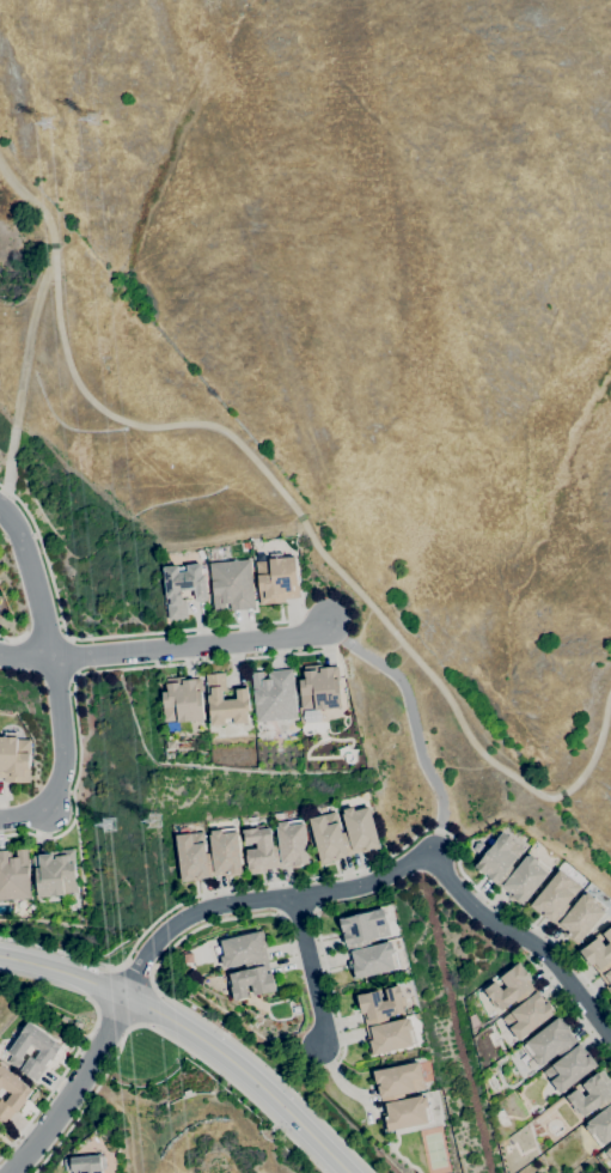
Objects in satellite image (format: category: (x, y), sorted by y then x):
power tower: (92, 121)
power tower: (49, 124)
road: (30, 200)
road: (54, 245)
road: (23, 382)
road: (132, 423)
park: (287, 493)
road: (300, 517)
building: (276, 578)
road: (33, 579)
building: (232, 584)
building: (183, 588)
road: (291, 618)
road: (44, 636)
road: (96, 637)
road: (12, 638)
road: (190, 645)
road: (324, 645)
road: (24, 656)
road: (68, 656)
road: (426, 669)
road: (87, 671)
building: (319, 687)
building: (274, 695)
building: (182, 699)
building: (225, 703)
road: (413, 723)
building: (170, 746)
road: (597, 746)
building: (14, 758)
road: (60, 759)
road: (562, 794)
power tower: (153, 822)
power tower: (110, 827)
building: (344, 833)
building: (276, 846)
building: (475, 847)
building: (225, 853)
building: (191, 856)
building: (512, 869)
building: (55, 873)
road: (337, 873)
building: (14, 875)
road: (258, 901)
building: (568, 907)
road: (525, 942)
building: (367, 943)
building: (600, 958)
building: (248, 964)
road: (287, 964)
road: (135, 972)
road: (308, 973)
road: (331, 991)
park: (12, 993)
building: (519, 1002)
road: (568, 1007)
road: (184, 1009)
building: (385, 1021)
road: (163, 1037)
road: (190, 1037)
building: (49, 1051)
building: (560, 1055)
road: (336, 1077)
road: (57, 1078)
road: (74, 1090)
building: (12, 1093)
building: (402, 1096)
building: (595, 1106)
building: (0, 1131)
park: (187, 1131)
building: (607, 1153)
building: (85, 1163)

